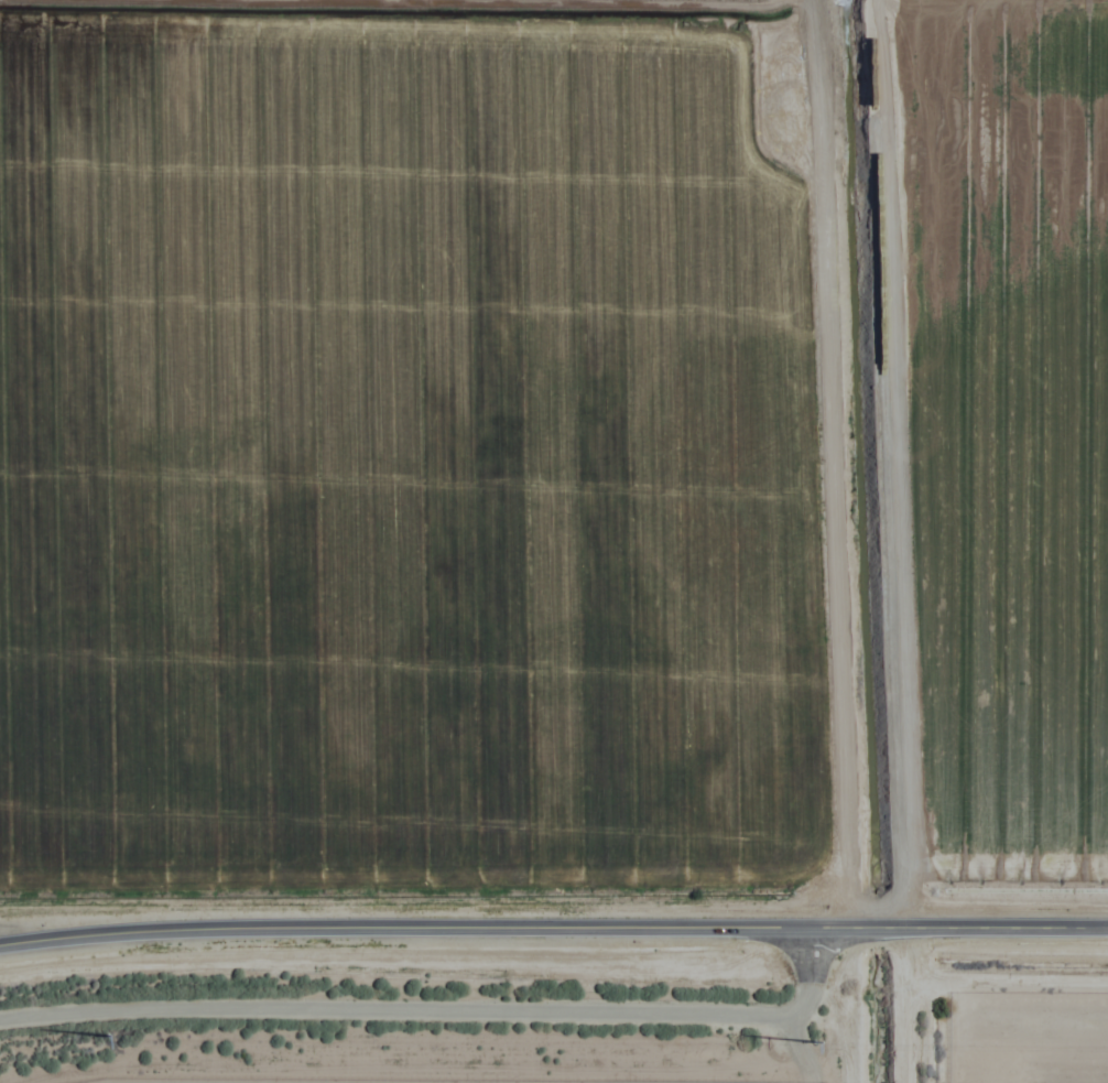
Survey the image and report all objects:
road: (553, 930)
solar farm: (1028, 1039)
solar farm: (221, 1081)

